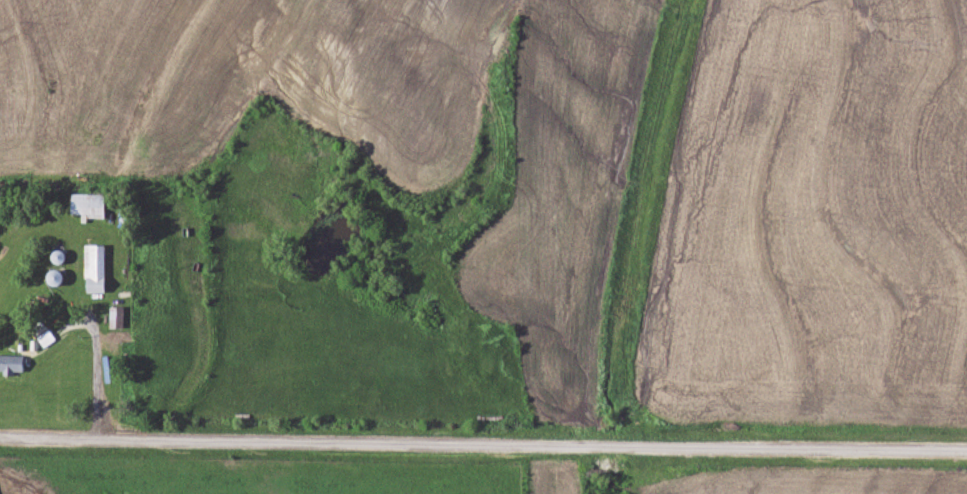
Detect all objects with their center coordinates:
building: (89, 205)
building: (95, 269)
building: (57, 277)
building: (117, 317)
building: (12, 363)
road: (483, 440)

